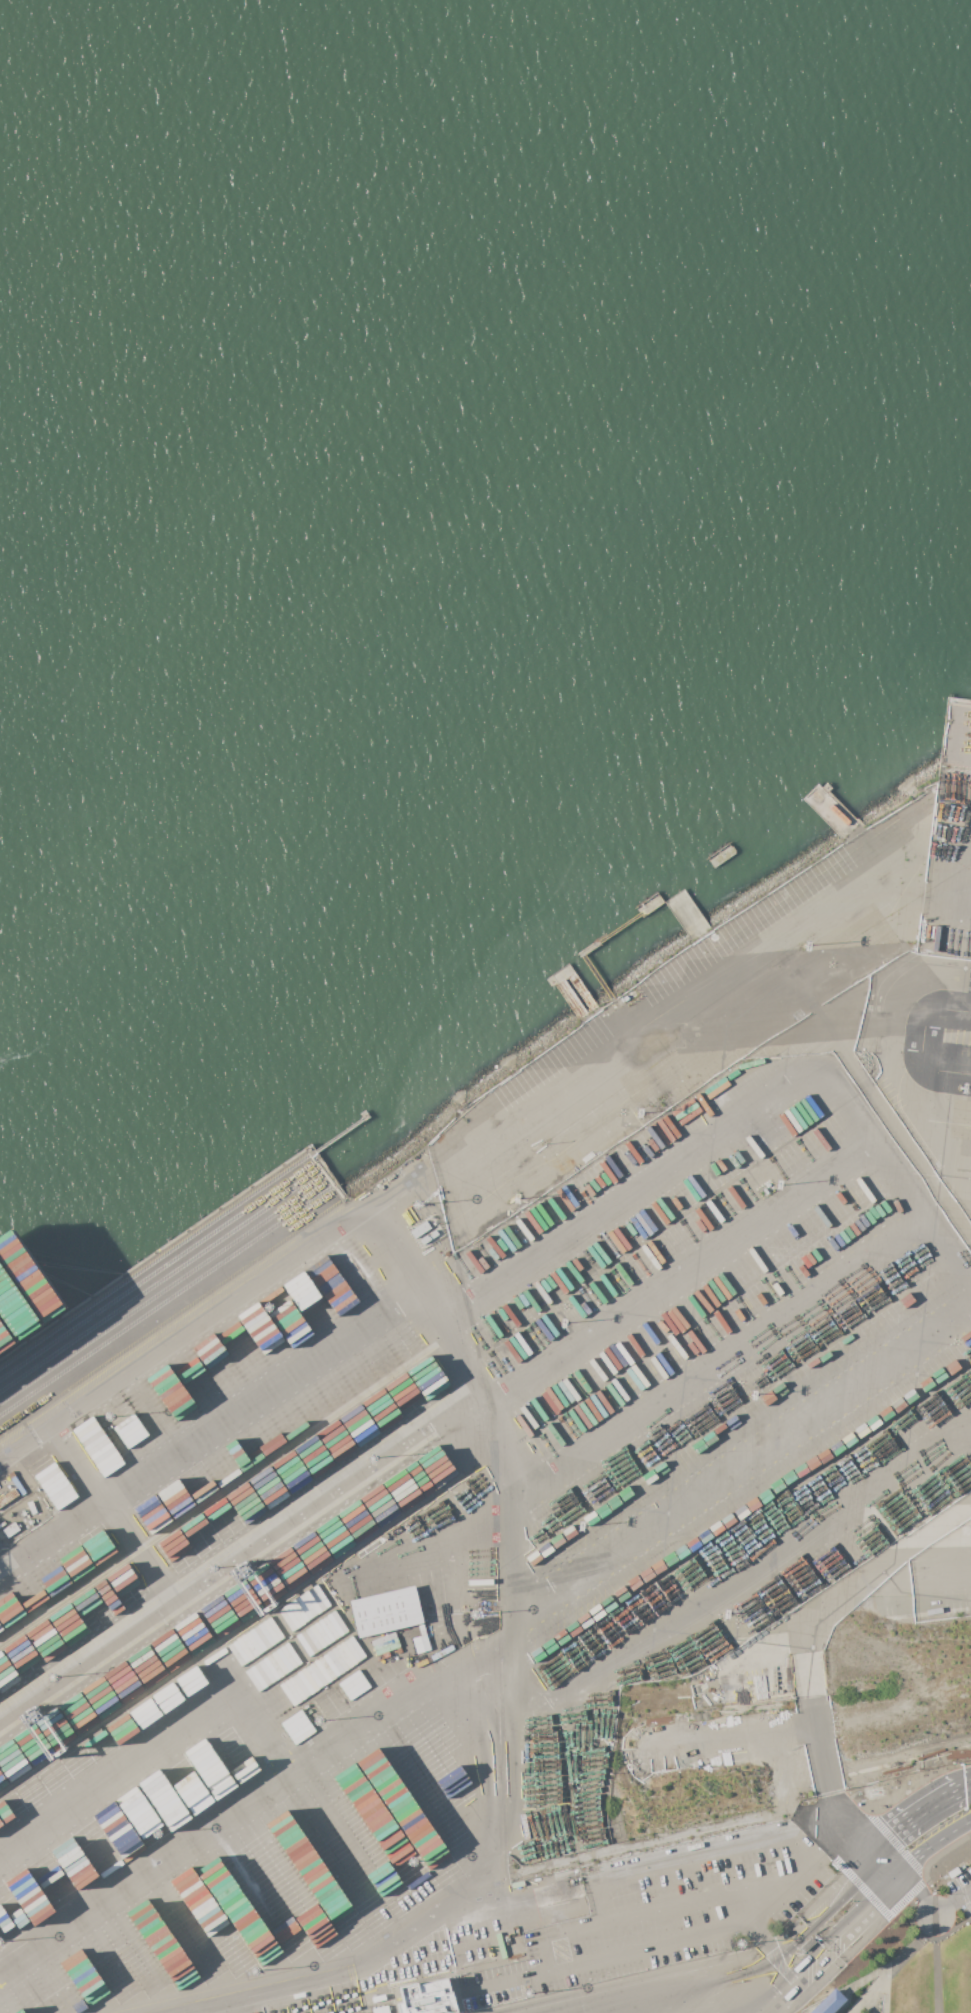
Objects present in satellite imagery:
road: (968, 779)
road: (931, 1005)
road: (622, 1046)
road: (885, 1055)
road: (733, 1121)
building: (420, 1229)
building: (427, 1238)
road: (399, 1253)
road: (720, 1358)
road: (208, 1424)
road: (435, 1434)
building: (96, 1446)
road: (744, 1461)
building: (51, 1481)
road: (753, 1570)
road: (951, 1571)
building: (385, 1612)
road: (468, 1674)
road: (968, 1786)
road: (919, 1816)
road: (951, 1832)
road: (913, 1857)
road: (701, 1859)
road: (885, 1860)
parking lot: (962, 1891)
road: (779, 1897)
road: (702, 1899)
building: (566, 1906)
road: (930, 1907)
road: (796, 1920)
road: (928, 1926)
road: (553, 1932)
road: (821, 1942)
road: (628, 1952)
road: (905, 1953)
park: (913, 1960)
building: (475, 1961)
park: (913, 1962)
road: (936, 1976)
road: (856, 1987)
road: (885, 1992)
road: (651, 1997)
building: (427, 1998)
building: (829, 2002)
building: (379, 2009)
building: (18, 2011)

